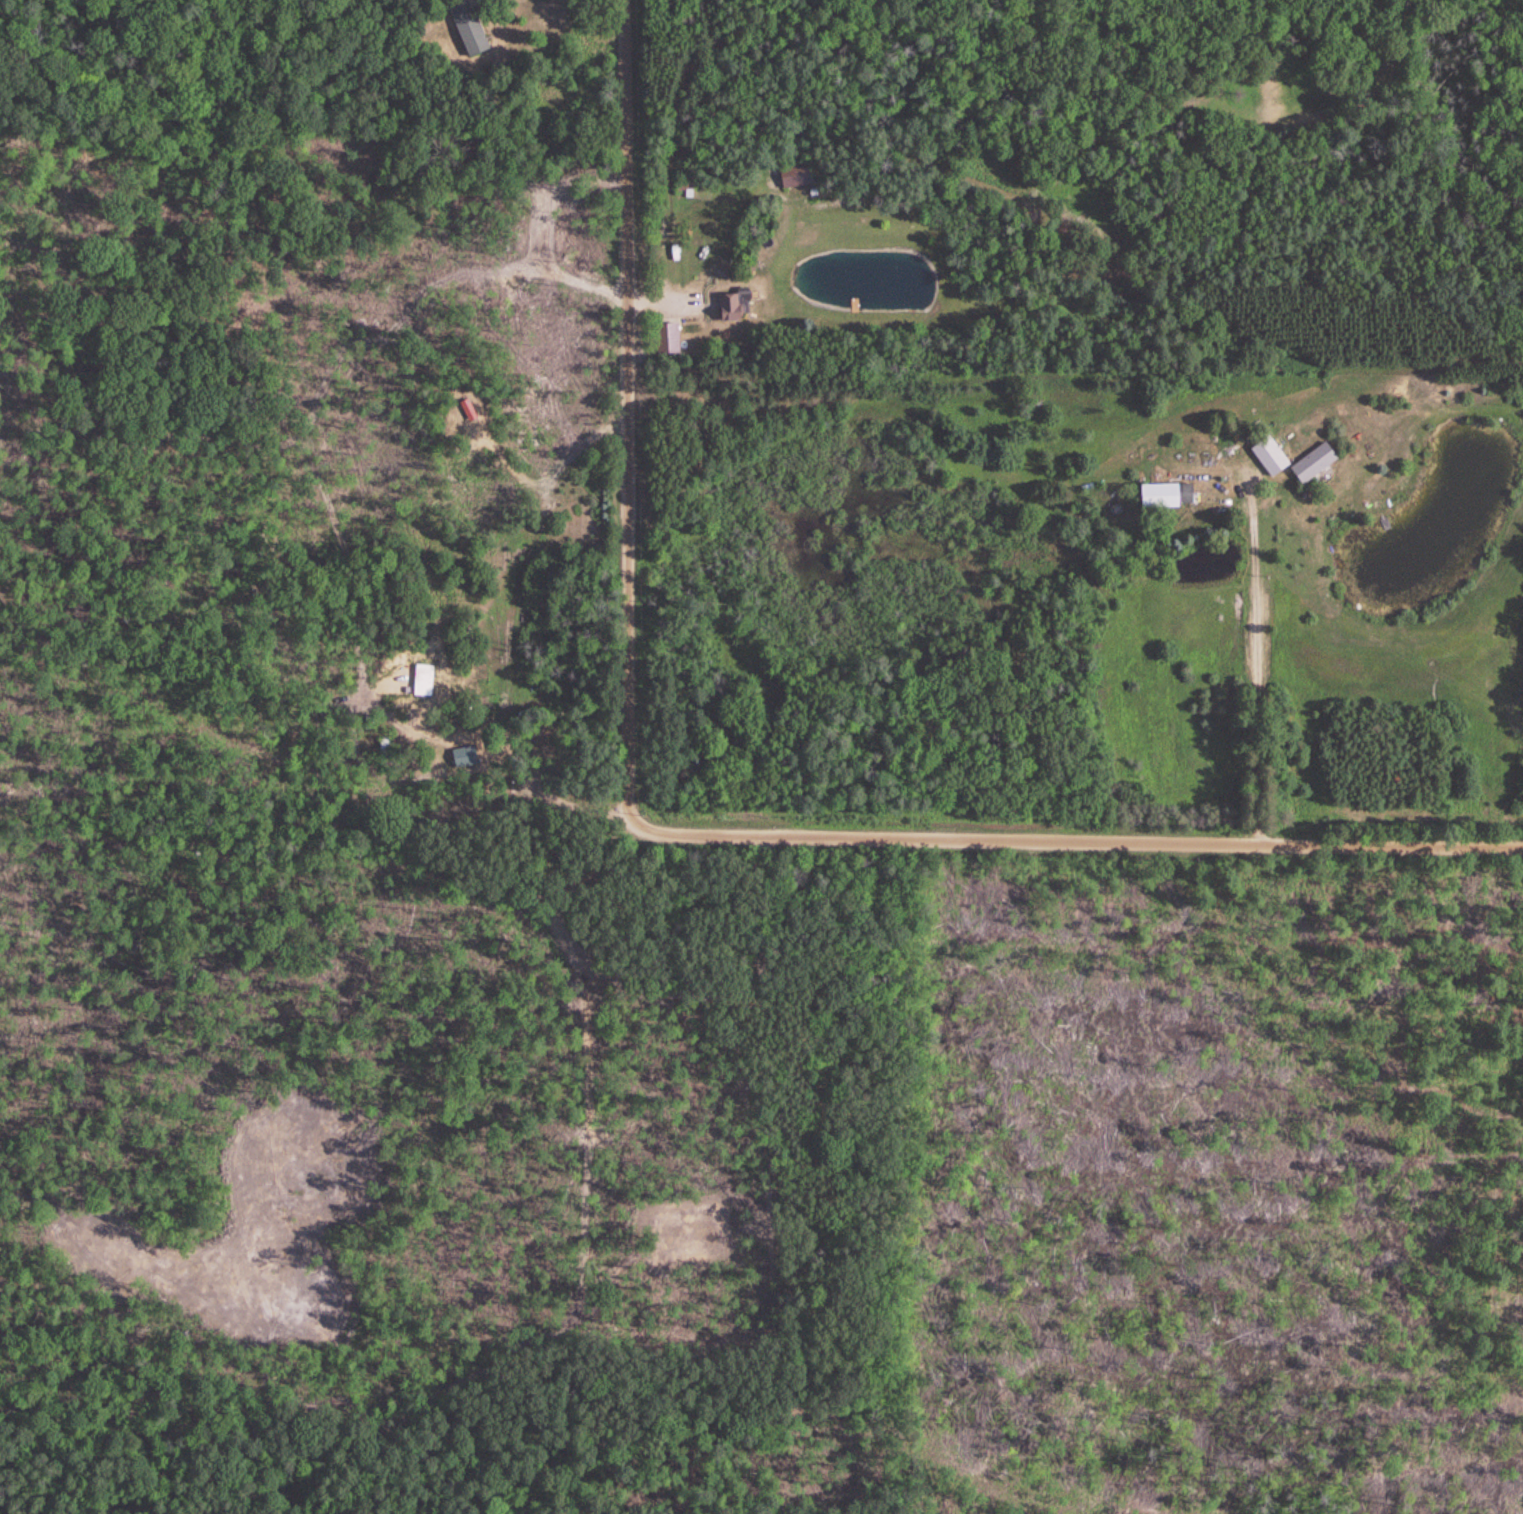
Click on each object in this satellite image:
building: (464, 29)
building: (787, 176)
building: (728, 308)
building: (664, 340)
building: (1310, 464)
building: (1183, 495)
building: (1154, 497)
road: (1258, 657)
road: (669, 829)

